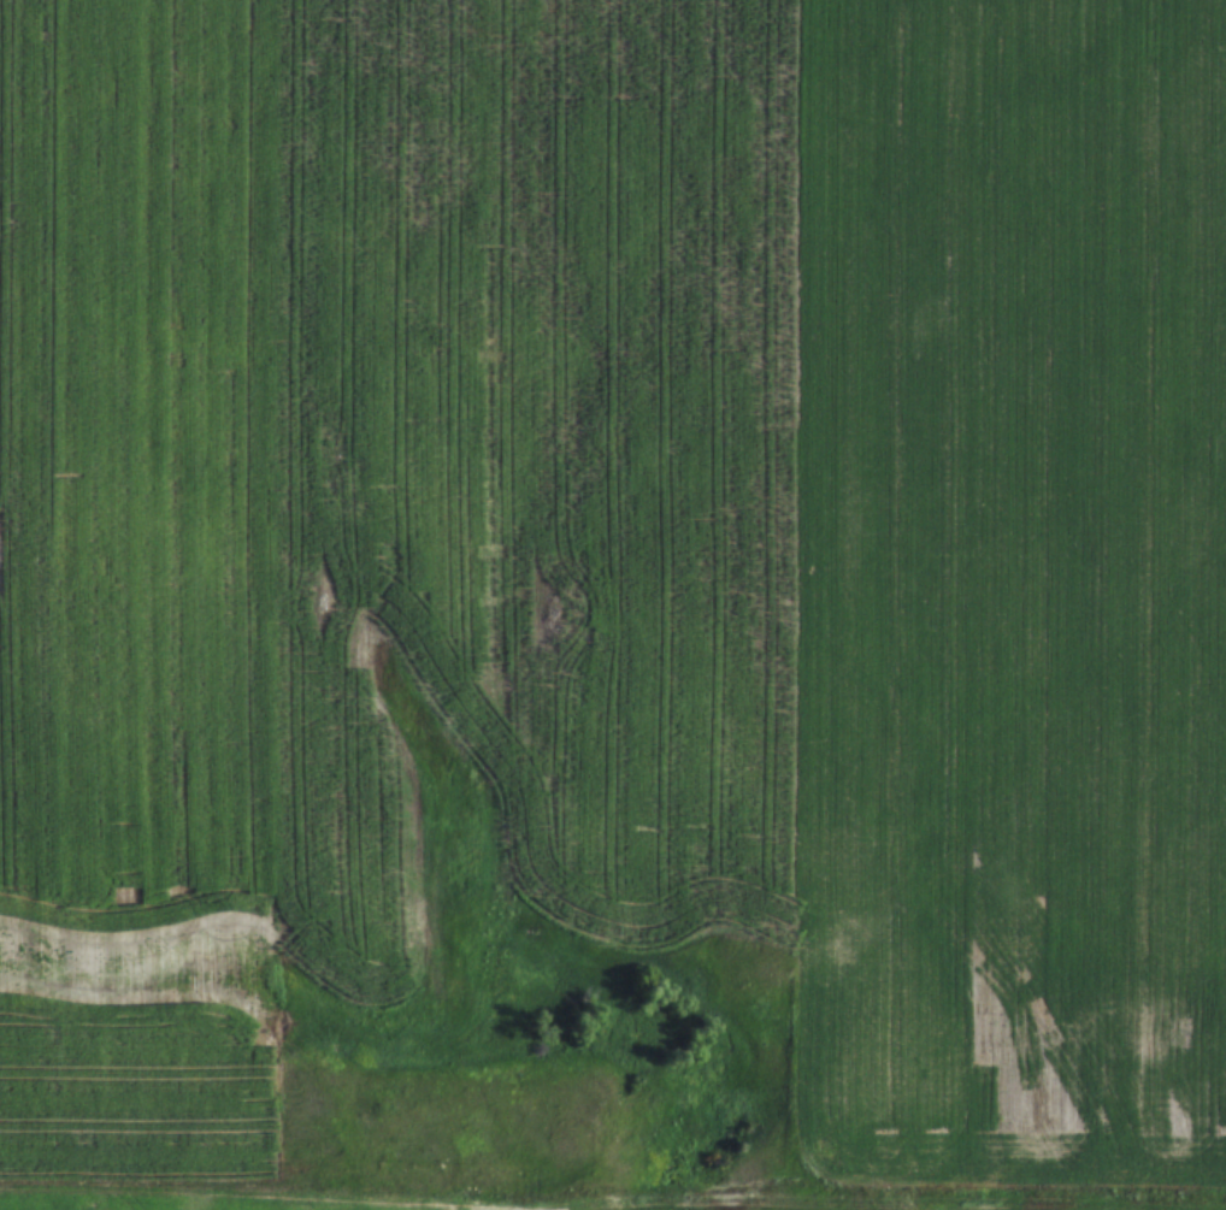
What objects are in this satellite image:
building: (438, 336)

